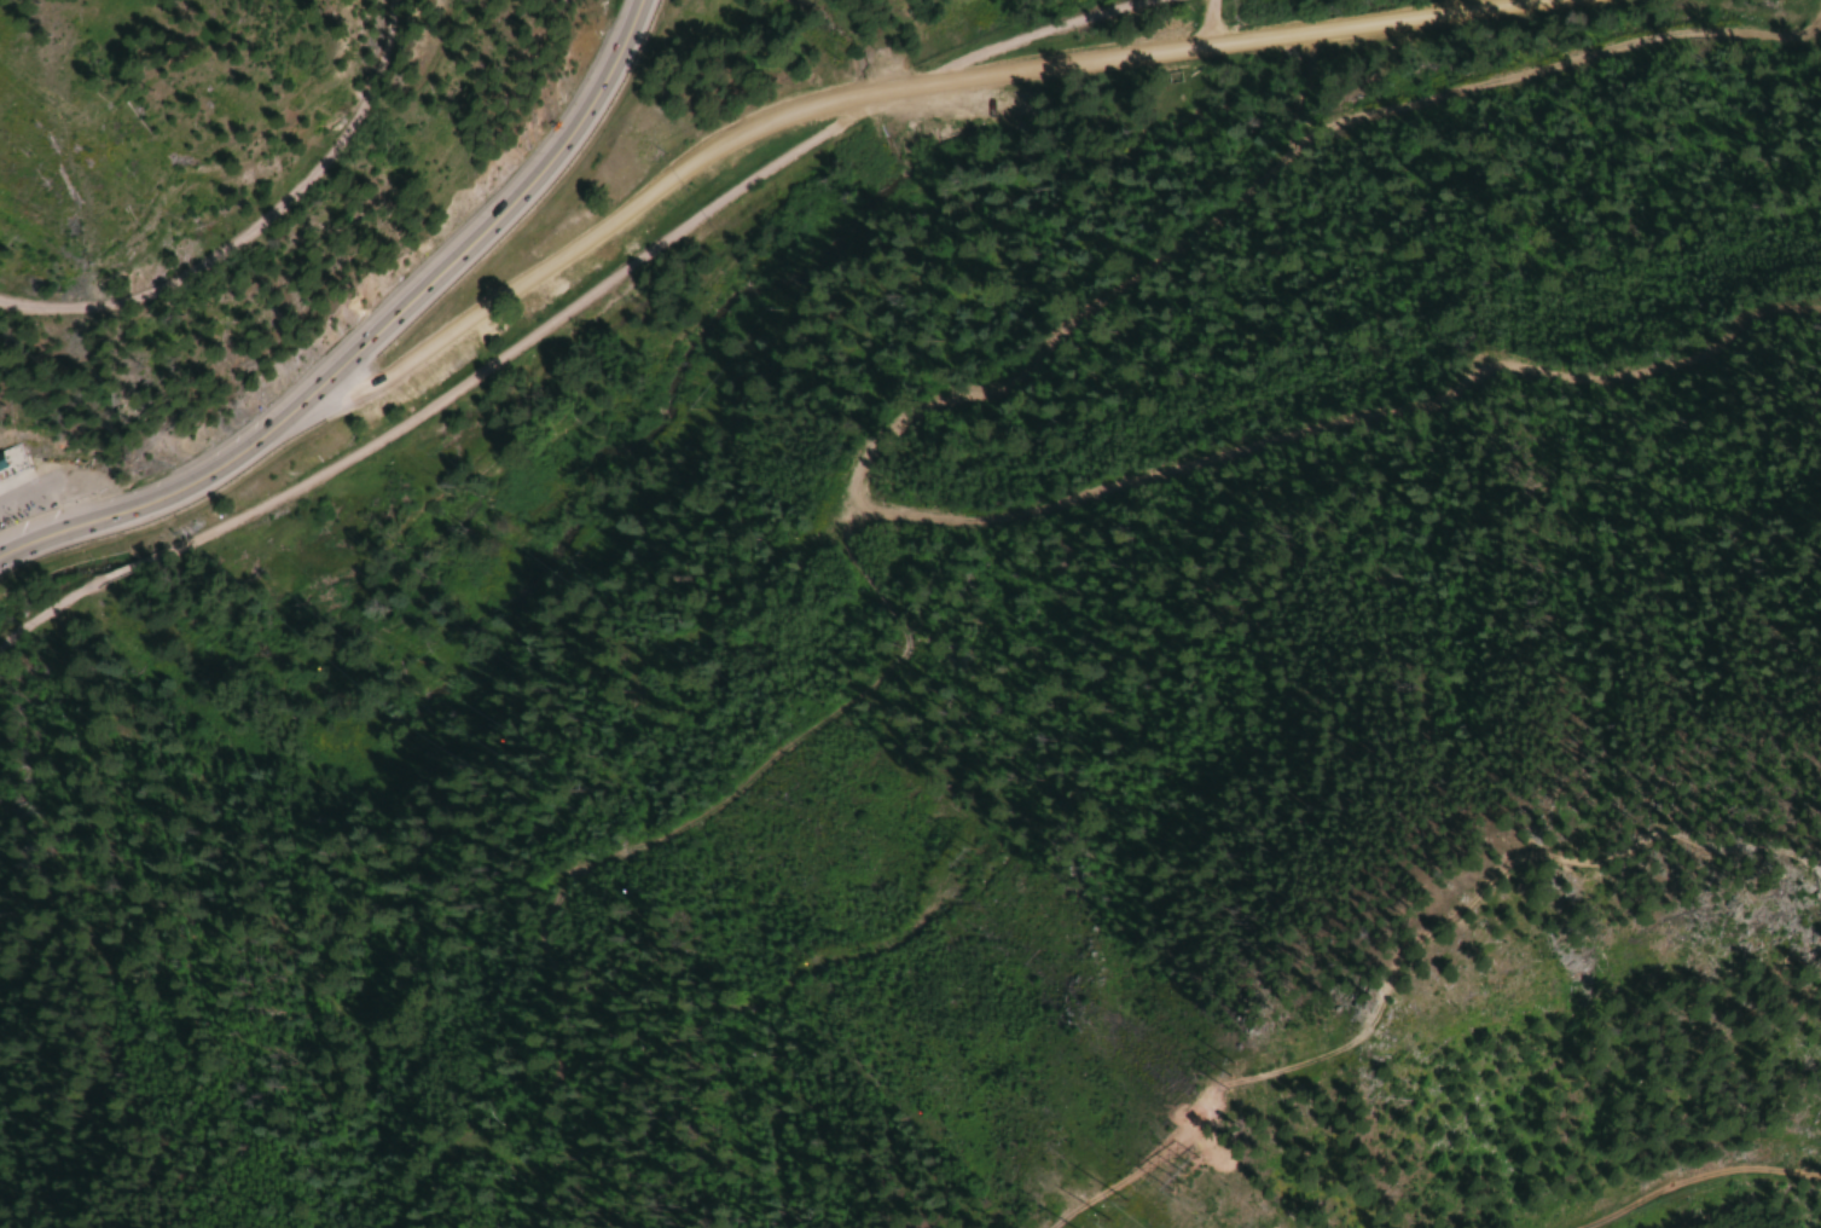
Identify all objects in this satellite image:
road: (870, 93)
road: (247, 222)
road: (474, 233)
road: (574, 301)
road: (51, 481)
parking lot: (30, 493)
road: (138, 504)
power tower: (1181, 1168)
power tower: (1106, 1217)

